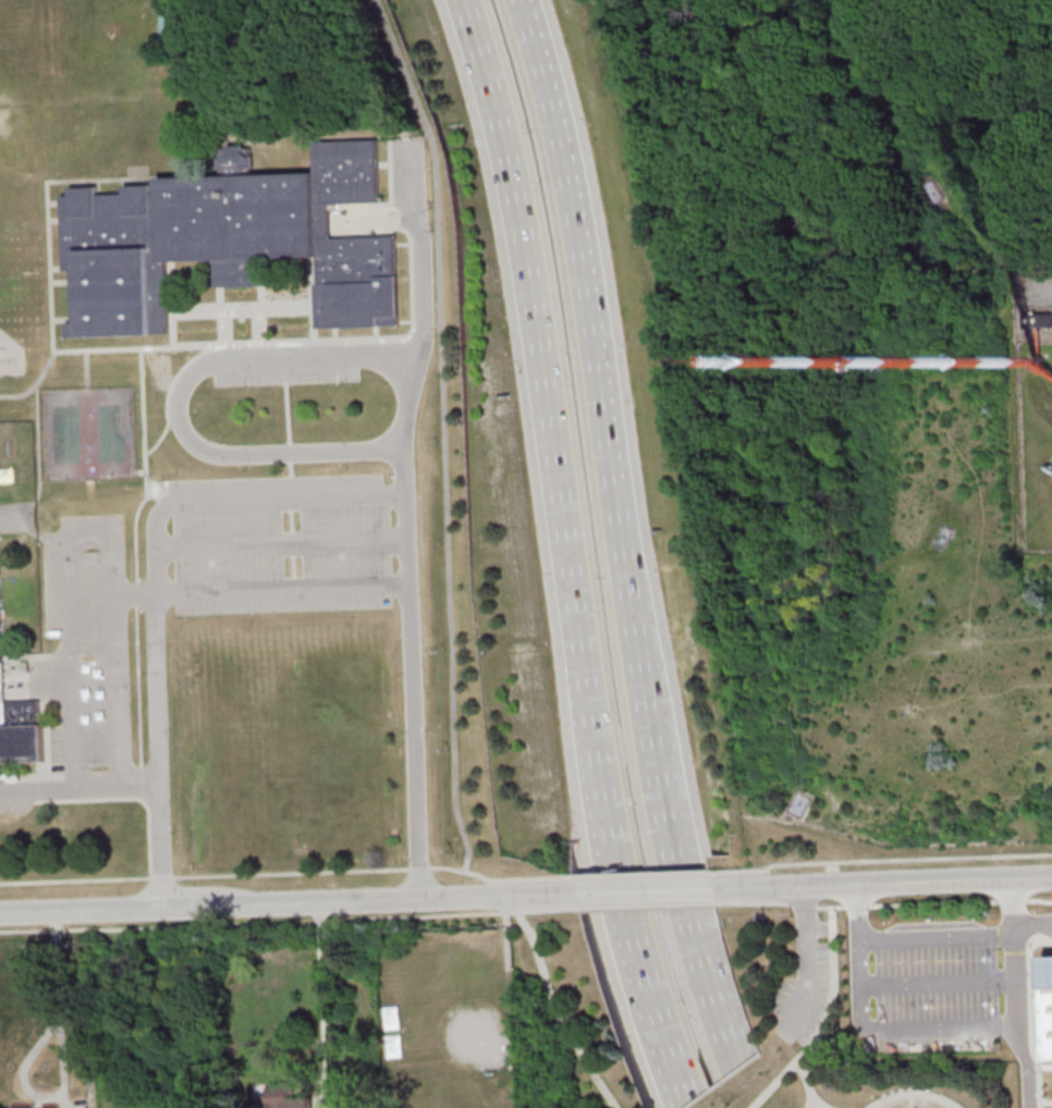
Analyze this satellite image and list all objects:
road: (386, 163)
road: (391, 172)
parking lot: (407, 173)
road: (156, 185)
road: (123, 186)
road: (54, 204)
road: (54, 220)
building: (229, 242)
road: (49, 250)
road: (576, 264)
road: (57, 268)
road: (63, 281)
road: (1042, 290)
road: (261, 298)
road: (220, 299)
road: (313, 299)
road: (171, 304)
road: (242, 308)
road: (64, 319)
road: (983, 319)
building: (1037, 319)
road: (406, 321)
road: (259, 324)
road: (529, 324)
road: (224, 327)
road: (377, 333)
road: (335, 334)
road: (288, 341)
parking lot: (285, 374)
road: (169, 391)
road: (179, 394)
road: (286, 413)
road: (443, 431)
park: (88, 435)
road: (145, 466)
road: (290, 467)
road: (139, 470)
road: (284, 500)
park: (16, 517)
road: (401, 517)
road: (278, 542)
parking lot: (279, 542)
road: (259, 588)
road: (137, 593)
road: (1016, 639)
parking lot: (86, 645)
road: (48, 678)
road: (95, 678)
road: (138, 686)
road: (71, 698)
road: (913, 698)
road: (155, 702)
road: (998, 703)
building: (20, 734)
road: (46, 739)
park: (289, 755)
road: (121, 767)
road: (73, 768)
road: (42, 777)
road: (140, 783)
road: (77, 785)
road: (39, 789)
road: (131, 798)
road: (675, 800)
parking lot: (16, 805)
road: (655, 809)
road: (604, 839)
road: (880, 860)
road: (417, 867)
road: (291, 872)
road: (640, 873)
road: (163, 876)
road: (76, 879)
road: (498, 879)
road: (892, 884)
road: (591, 886)
road: (638, 894)
road: (754, 901)
road: (933, 902)
road: (271, 903)
road: (802, 903)
road: (647, 904)
road: (288, 919)
road: (955, 934)
road: (506, 943)
road: (1015, 952)
road: (806, 965)
road: (939, 982)
road: (321, 990)
parking lot: (803, 998)
building: (921, 998)
building: (1045, 1008)
road: (829, 1010)
road: (555, 1013)
road: (1030, 1017)
road: (114, 1018)
park: (577, 1018)
park: (461, 1023)
road: (880, 1030)
park: (828, 1032)
road: (33, 1056)
road: (668, 1064)
road: (1027, 1066)
road: (154, 1082)
road: (807, 1085)
road: (914, 1093)
building: (286, 1096)
road: (1039, 1105)
road: (608, 1106)
building: (59, 1107)
road: (818, 1107)

